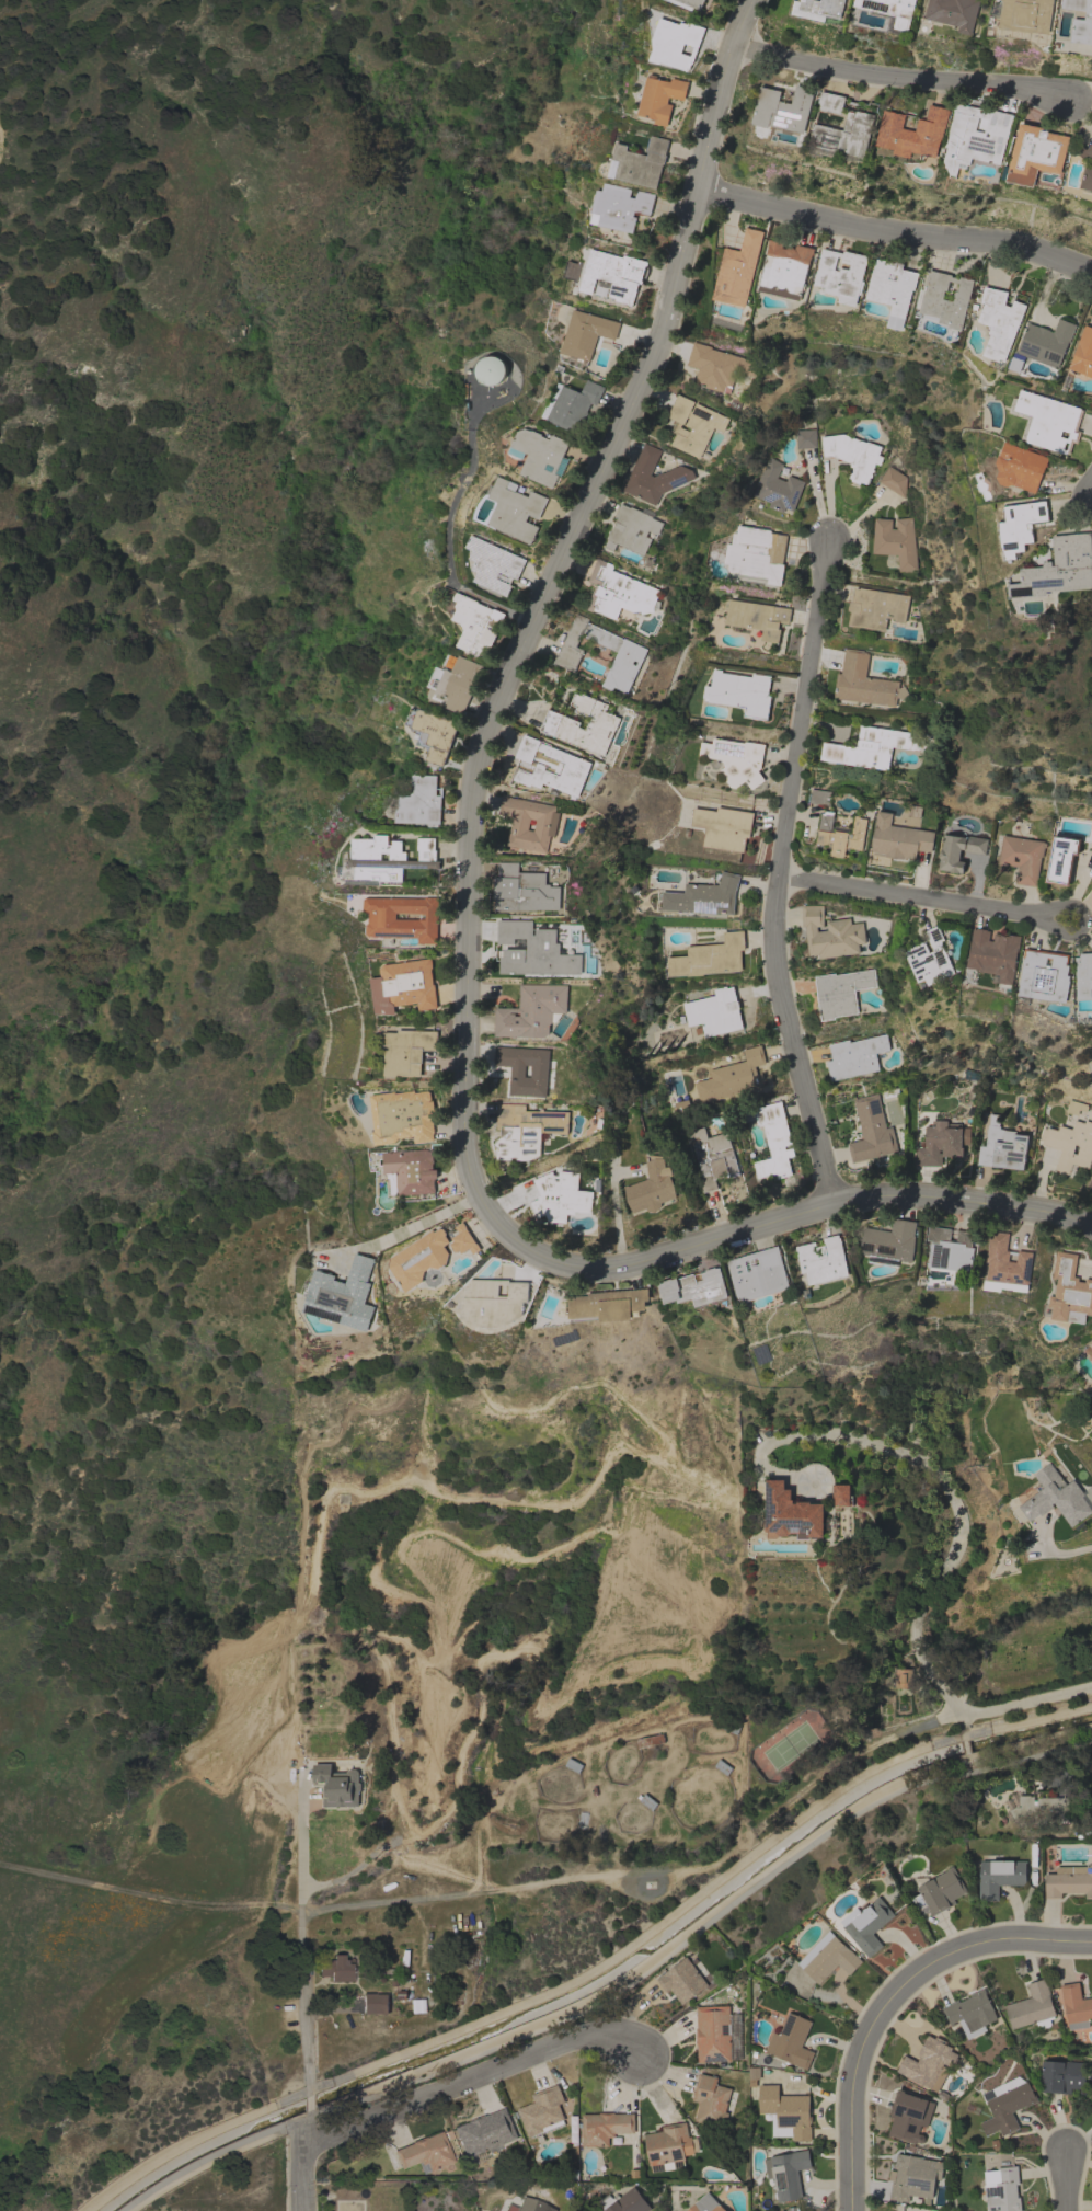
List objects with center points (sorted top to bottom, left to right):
building: (693, 3)
building: (818, 9)
building: (890, 12)
building: (954, 13)
building: (1025, 14)
building: (1080, 21)
building: (675, 43)
road: (899, 82)
building: (660, 98)
building: (830, 102)
building: (783, 108)
building: (912, 133)
building: (844, 134)
building: (976, 136)
building: (1085, 151)
building: (1036, 154)
building: (640, 162)
building: (1088, 177)
building: (620, 206)
road: (895, 239)
building: (738, 270)
building: (785, 270)
building: (614, 274)
building: (841, 274)
building: (892, 289)
building: (943, 299)
building: (999, 321)
building: (586, 333)
building: (1043, 344)
building: (1083, 353)
building: (717, 367)
building: (490, 369)
building: (573, 404)
building: (1045, 420)
building: (693, 424)
building: (805, 438)
building: (540, 455)
building: (852, 455)
building: (1019, 467)
building: (654, 476)
building: (893, 481)
building: (777, 486)
road: (815, 501)
building: (516, 509)
building: (1018, 526)
building: (632, 529)
building: (895, 541)
building: (756, 553)
building: (493, 564)
building: (1058, 568)
building: (619, 592)
building: (876, 608)
building: (756, 617)
building: (475, 625)
building: (629, 656)
building: (864, 681)
building: (459, 683)
building: (739, 692)
building: (560, 723)
building: (433, 733)
building: (870, 747)
building: (736, 759)
building: (568, 766)
building: (819, 797)
building: (421, 802)
building: (545, 824)
building: (723, 827)
building: (840, 834)
building: (898, 838)
building: (958, 850)
building: (366, 855)
building: (1021, 857)
building: (1060, 858)
road: (778, 880)
building: (522, 889)
building: (703, 896)
road: (471, 900)
road: (924, 902)
building: (402, 920)
building: (830, 932)
building: (533, 951)
building: (995, 955)
building: (709, 956)
building: (930, 958)
building: (1045, 975)
building: (1084, 975)
building: (403, 986)
building: (840, 992)
building: (531, 1010)
building: (714, 1011)
building: (406, 1051)
building: (854, 1056)
building: (524, 1069)
building: (731, 1077)
building: (1074, 1107)
building: (402, 1116)
building: (871, 1130)
building: (525, 1131)
building: (772, 1139)
building: (941, 1142)
building: (1070, 1144)
building: (1002, 1146)
building: (712, 1157)
building: (410, 1170)
building: (652, 1188)
building: (560, 1195)
road: (399, 1233)
building: (463, 1240)
building: (890, 1240)
building: (950, 1249)
building: (419, 1258)
building: (821, 1260)
building: (1005, 1261)
building: (758, 1274)
building: (696, 1287)
building: (1069, 1291)
building: (343, 1295)
building: (493, 1302)
building: (609, 1304)
building: (1089, 1348)
building: (759, 1353)
building: (842, 1494)
building: (1056, 1497)
building: (791, 1513)
road: (1050, 1549)
road: (946, 1562)
building: (903, 1677)
building: (650, 1740)
building: (573, 1765)
building: (722, 1766)
building: (337, 1785)
building: (646, 1800)
building: (1038, 1809)
building: (999, 1877)
building: (1069, 1880)
building: (939, 1892)
road: (361, 1904)
building: (866, 1925)
road: (981, 1943)
road: (301, 1951)
building: (827, 1957)
building: (336, 1969)
building: (681, 1980)
road: (614, 1982)
building: (375, 2004)
building: (1032, 2006)
building: (1076, 2006)
building: (970, 2013)
building: (716, 2034)
building: (791, 2041)
building: (928, 2063)
building: (754, 2075)
building: (1061, 2076)
road: (470, 2077)
building: (712, 2100)
road: (852, 2100)
road: (308, 2104)
building: (1005, 2105)
building: (542, 2111)
building: (785, 2112)
building: (909, 2116)
building: (605, 2127)
building: (484, 2133)
building: (669, 2146)
building: (425, 2153)
road: (302, 2161)
building: (392, 2162)
building: (786, 2173)
building: (913, 2176)
road: (1066, 2181)
building: (1003, 2191)
building: (624, 2202)
building: (705, 2203)
building: (519, 2209)

